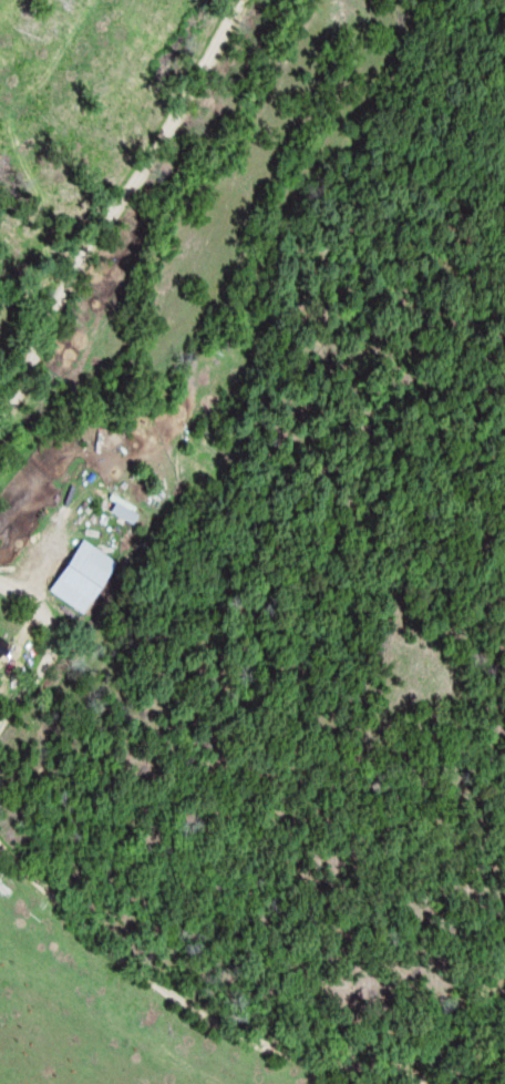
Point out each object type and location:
road: (115, 208)
building: (89, 574)
road: (55, 659)
road: (230, 1030)
road: (384, 1063)

